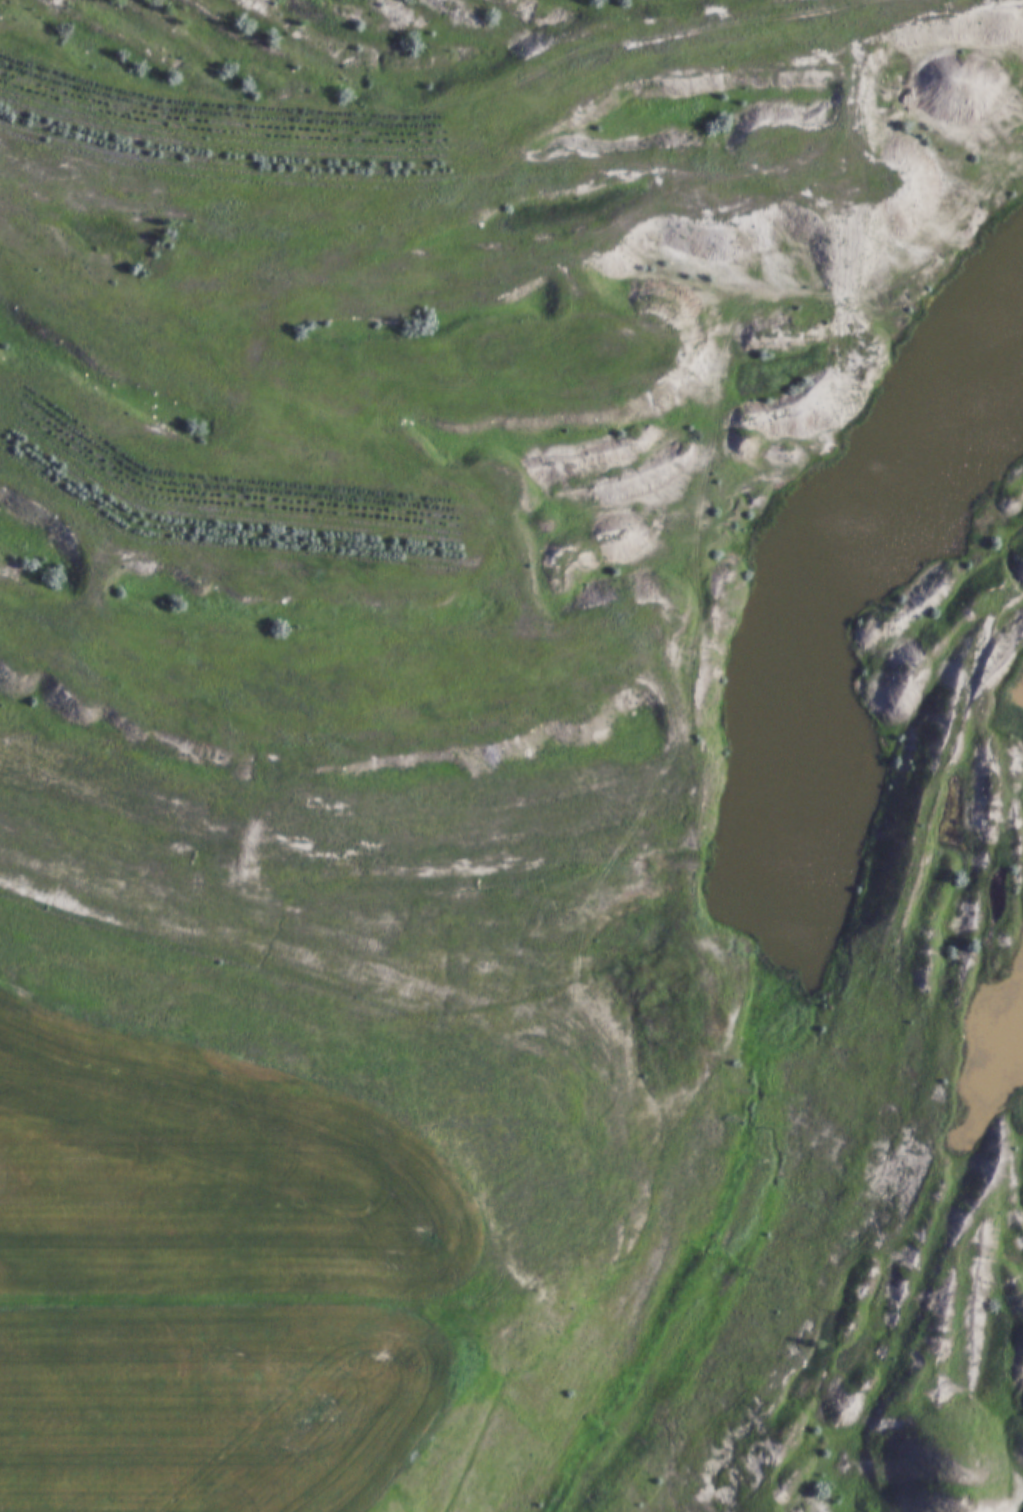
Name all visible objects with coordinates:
quarry: (555, 675)

